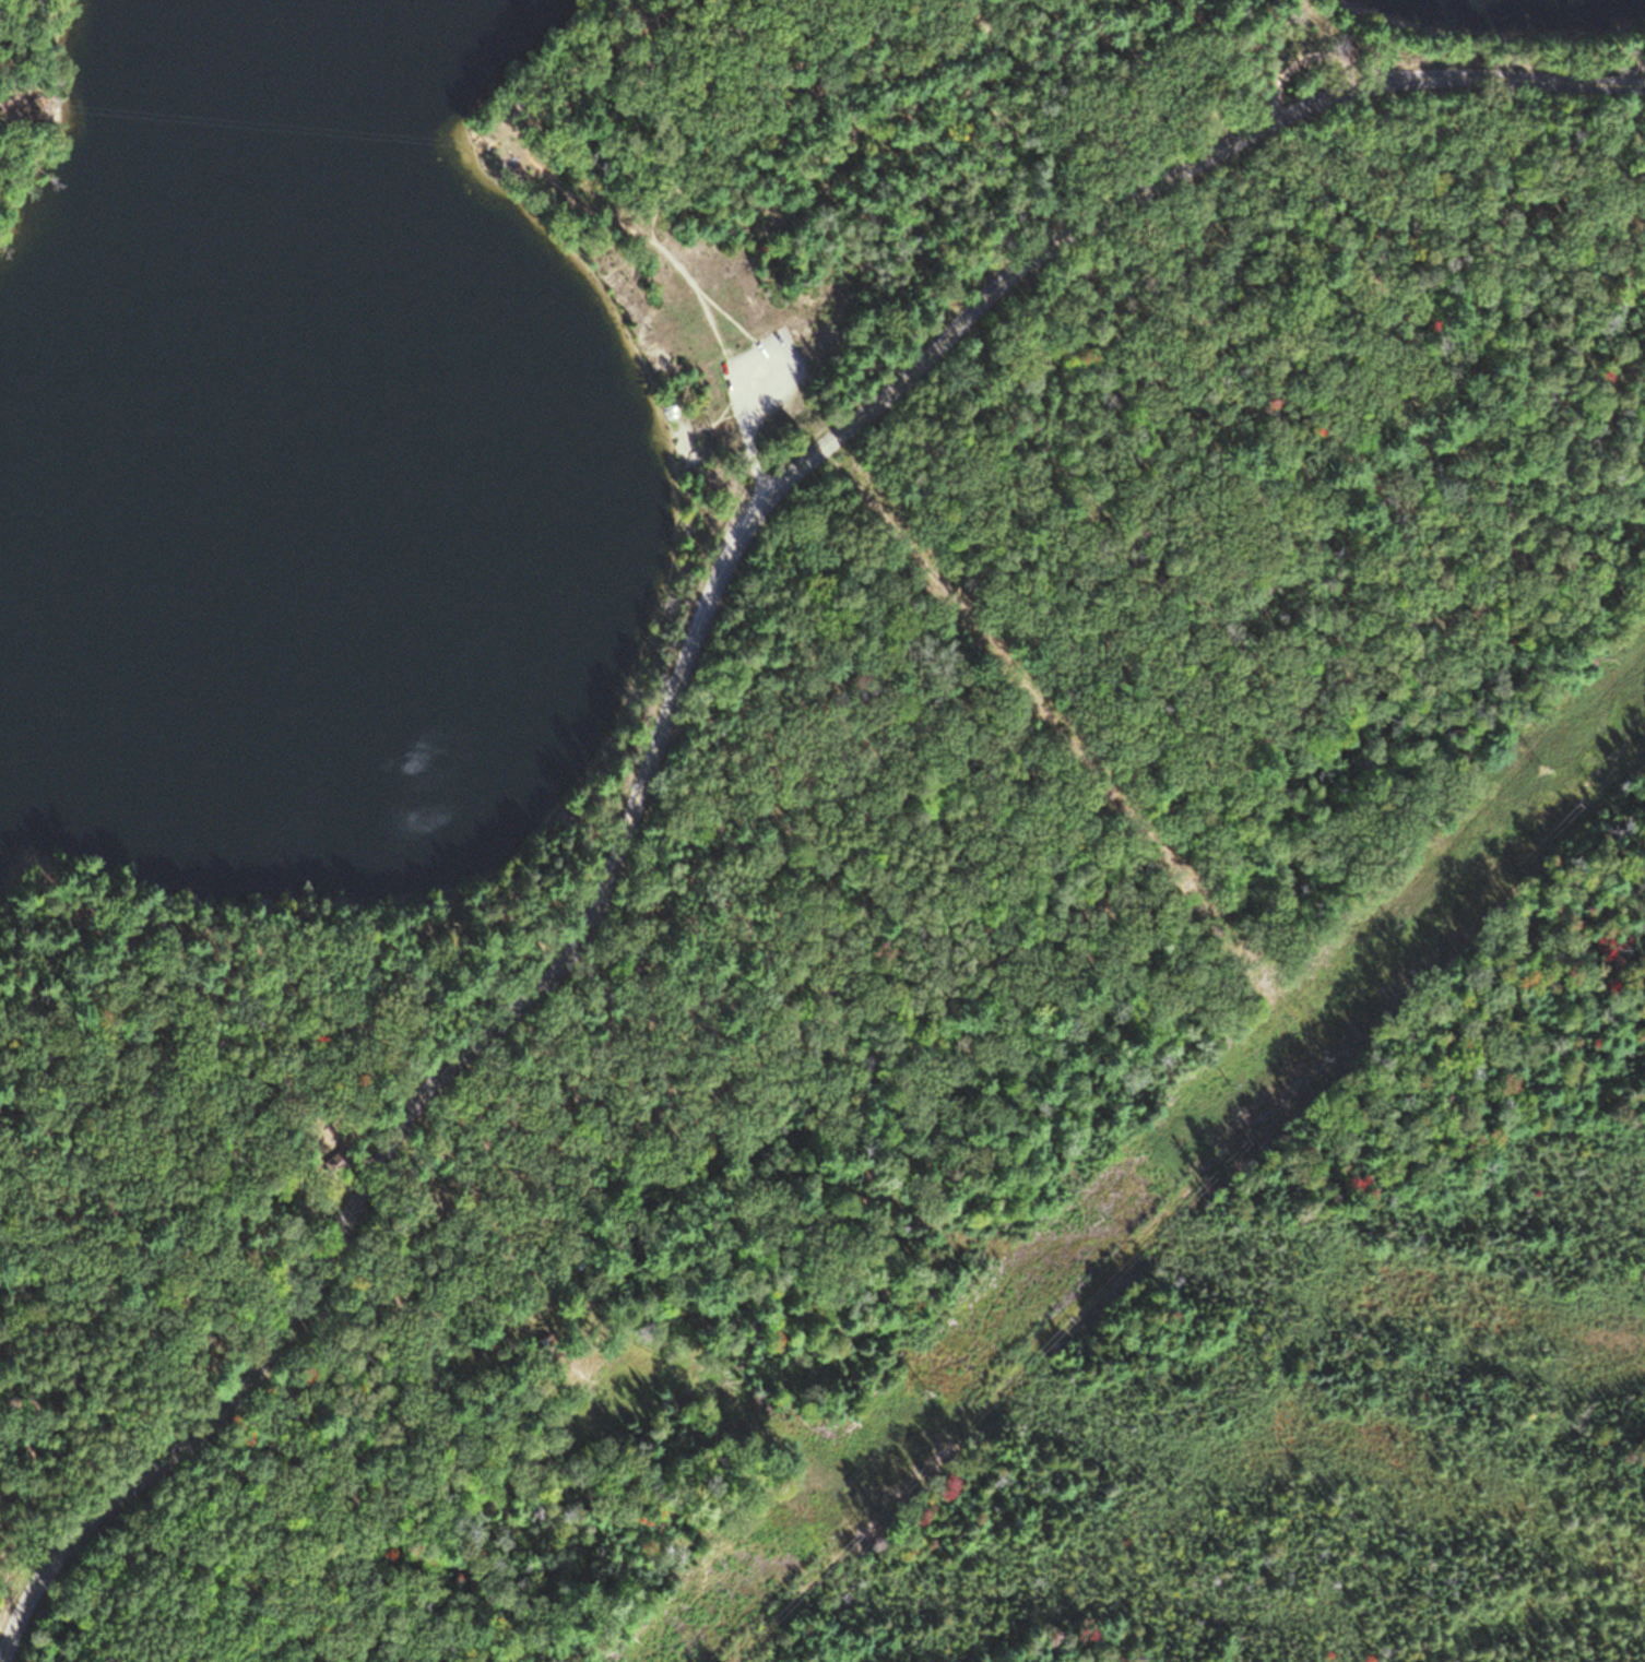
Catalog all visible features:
road: (1312, 55)
road: (21, 102)
road: (552, 163)
river: (263, 297)
parking lot: (759, 378)
road: (754, 454)
road: (676, 676)
power tower: (1534, 769)
power tower: (1378, 924)
power tower: (1223, 1085)

